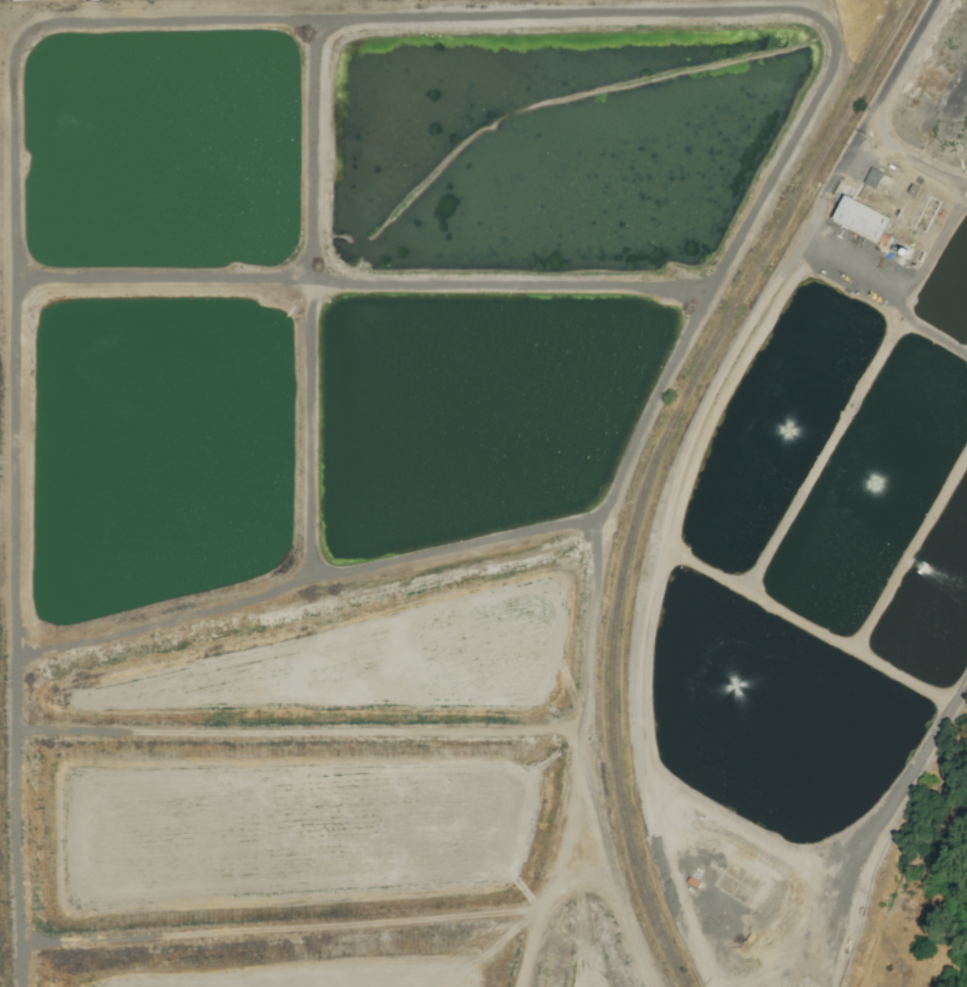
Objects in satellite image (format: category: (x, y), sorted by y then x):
road: (888, 82)
building: (873, 177)
building: (861, 217)
railway: (659, 468)

